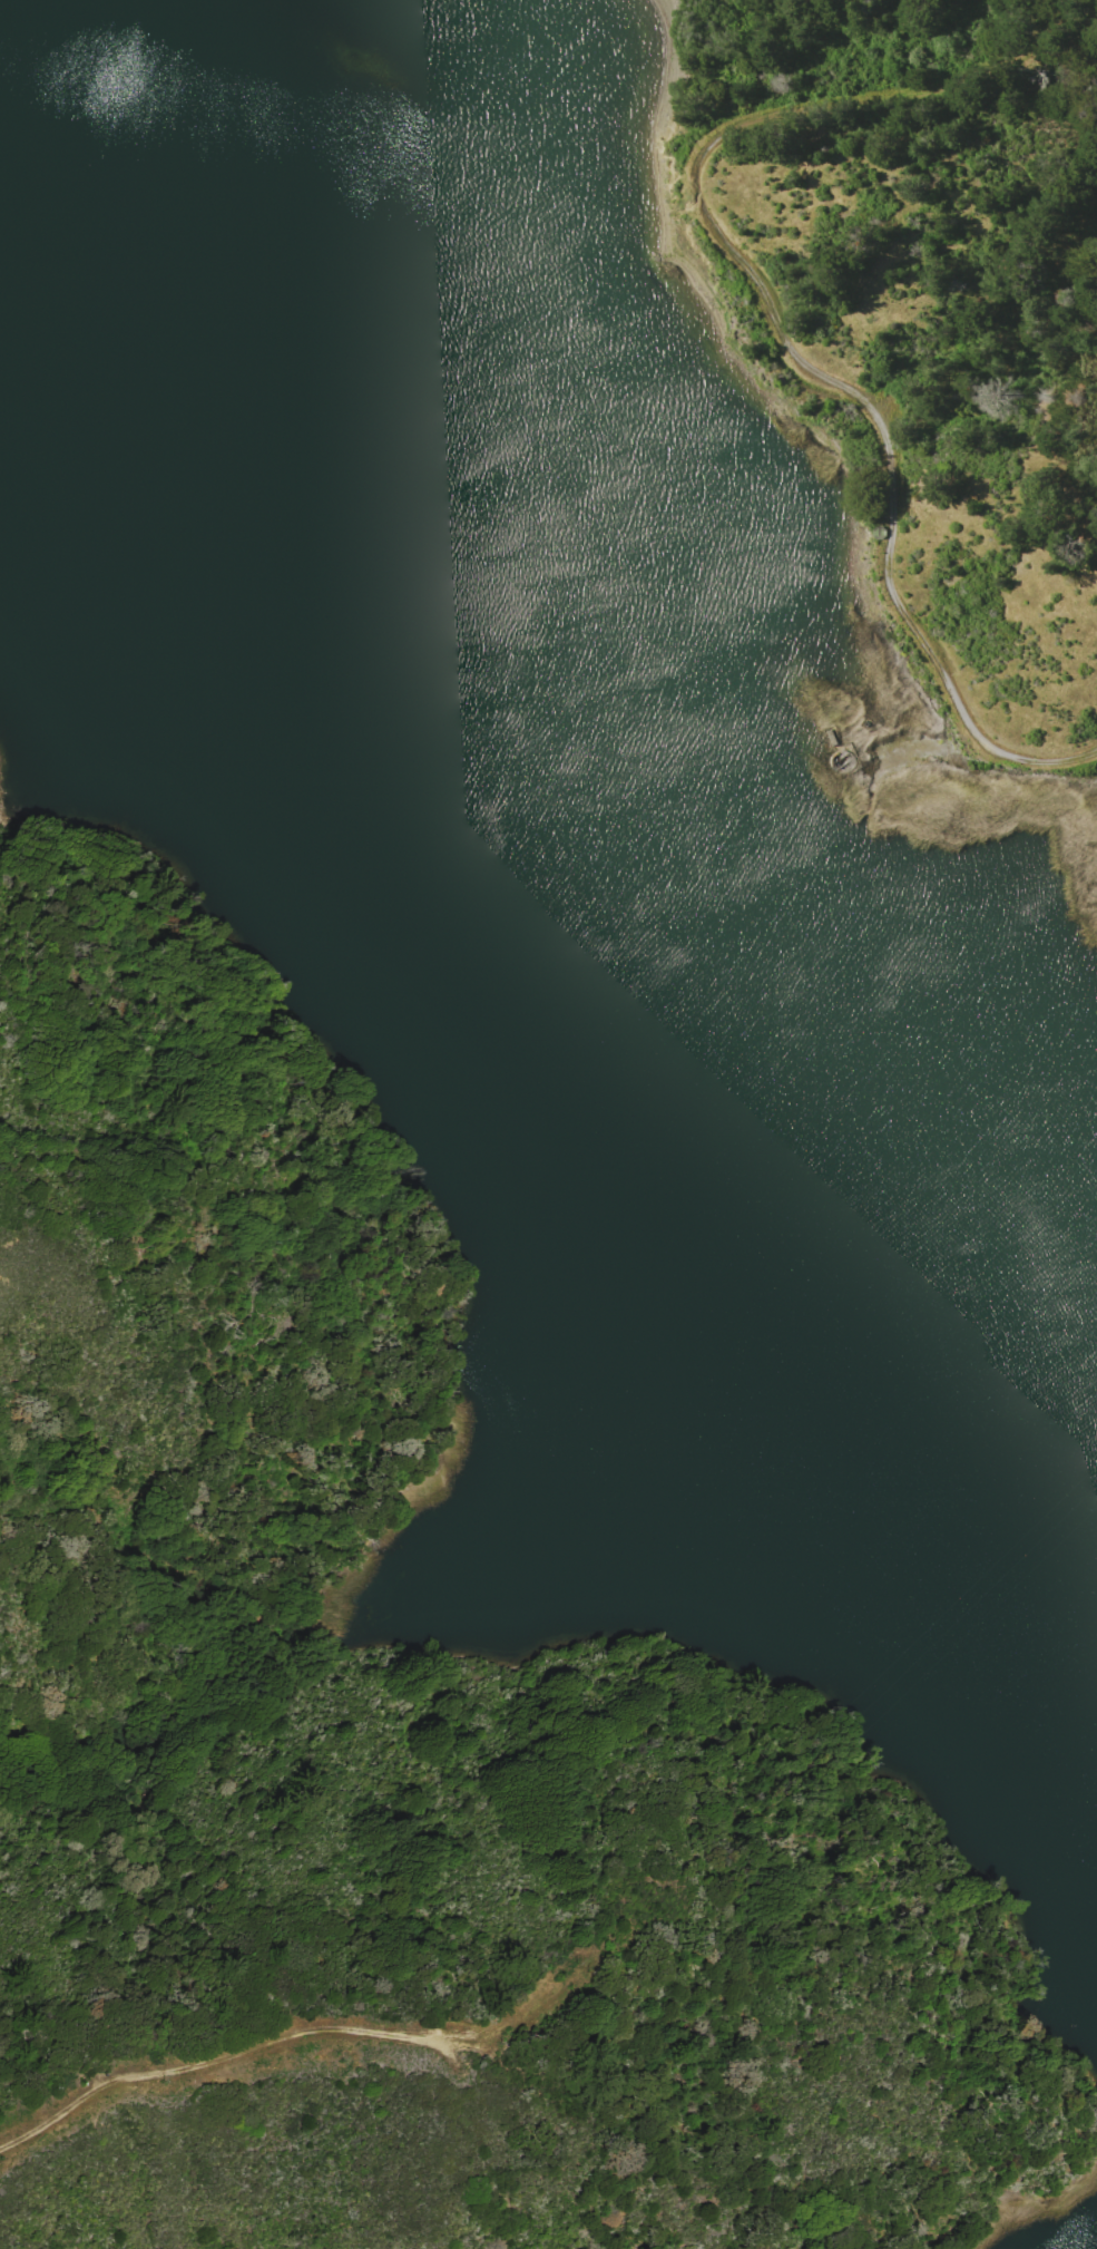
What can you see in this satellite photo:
road: (790, 328)
road: (295, 2031)

